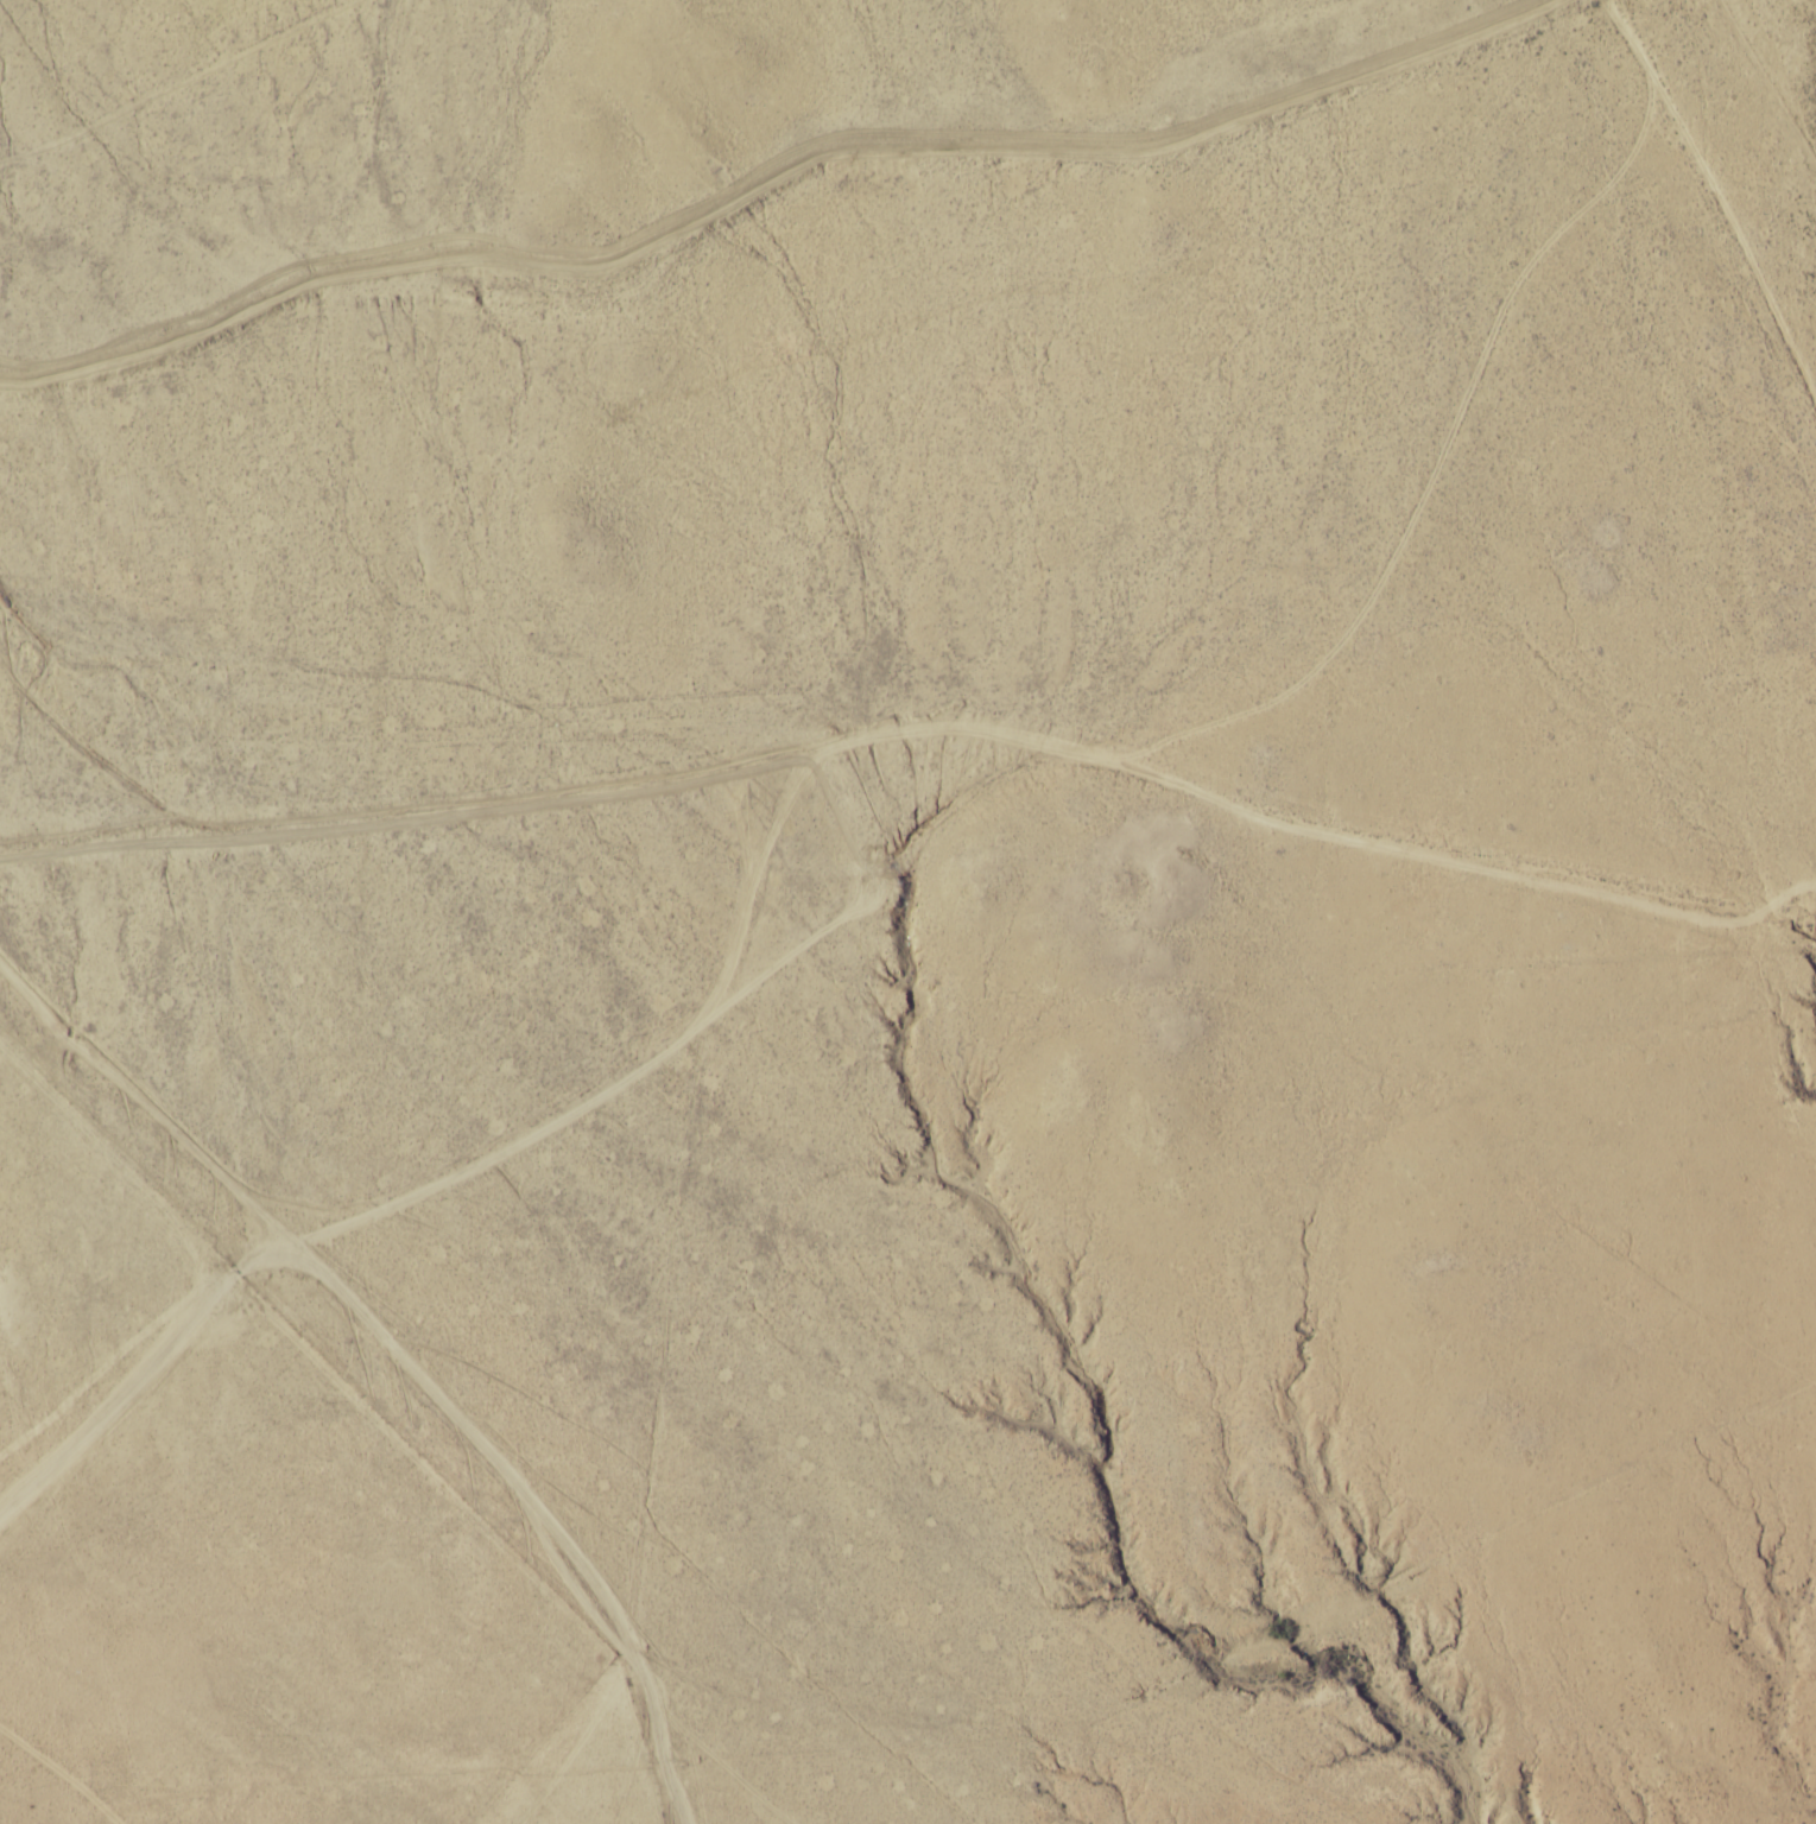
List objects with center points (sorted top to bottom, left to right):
road: (238, 39)
road: (1723, 229)
road: (398, 1354)

